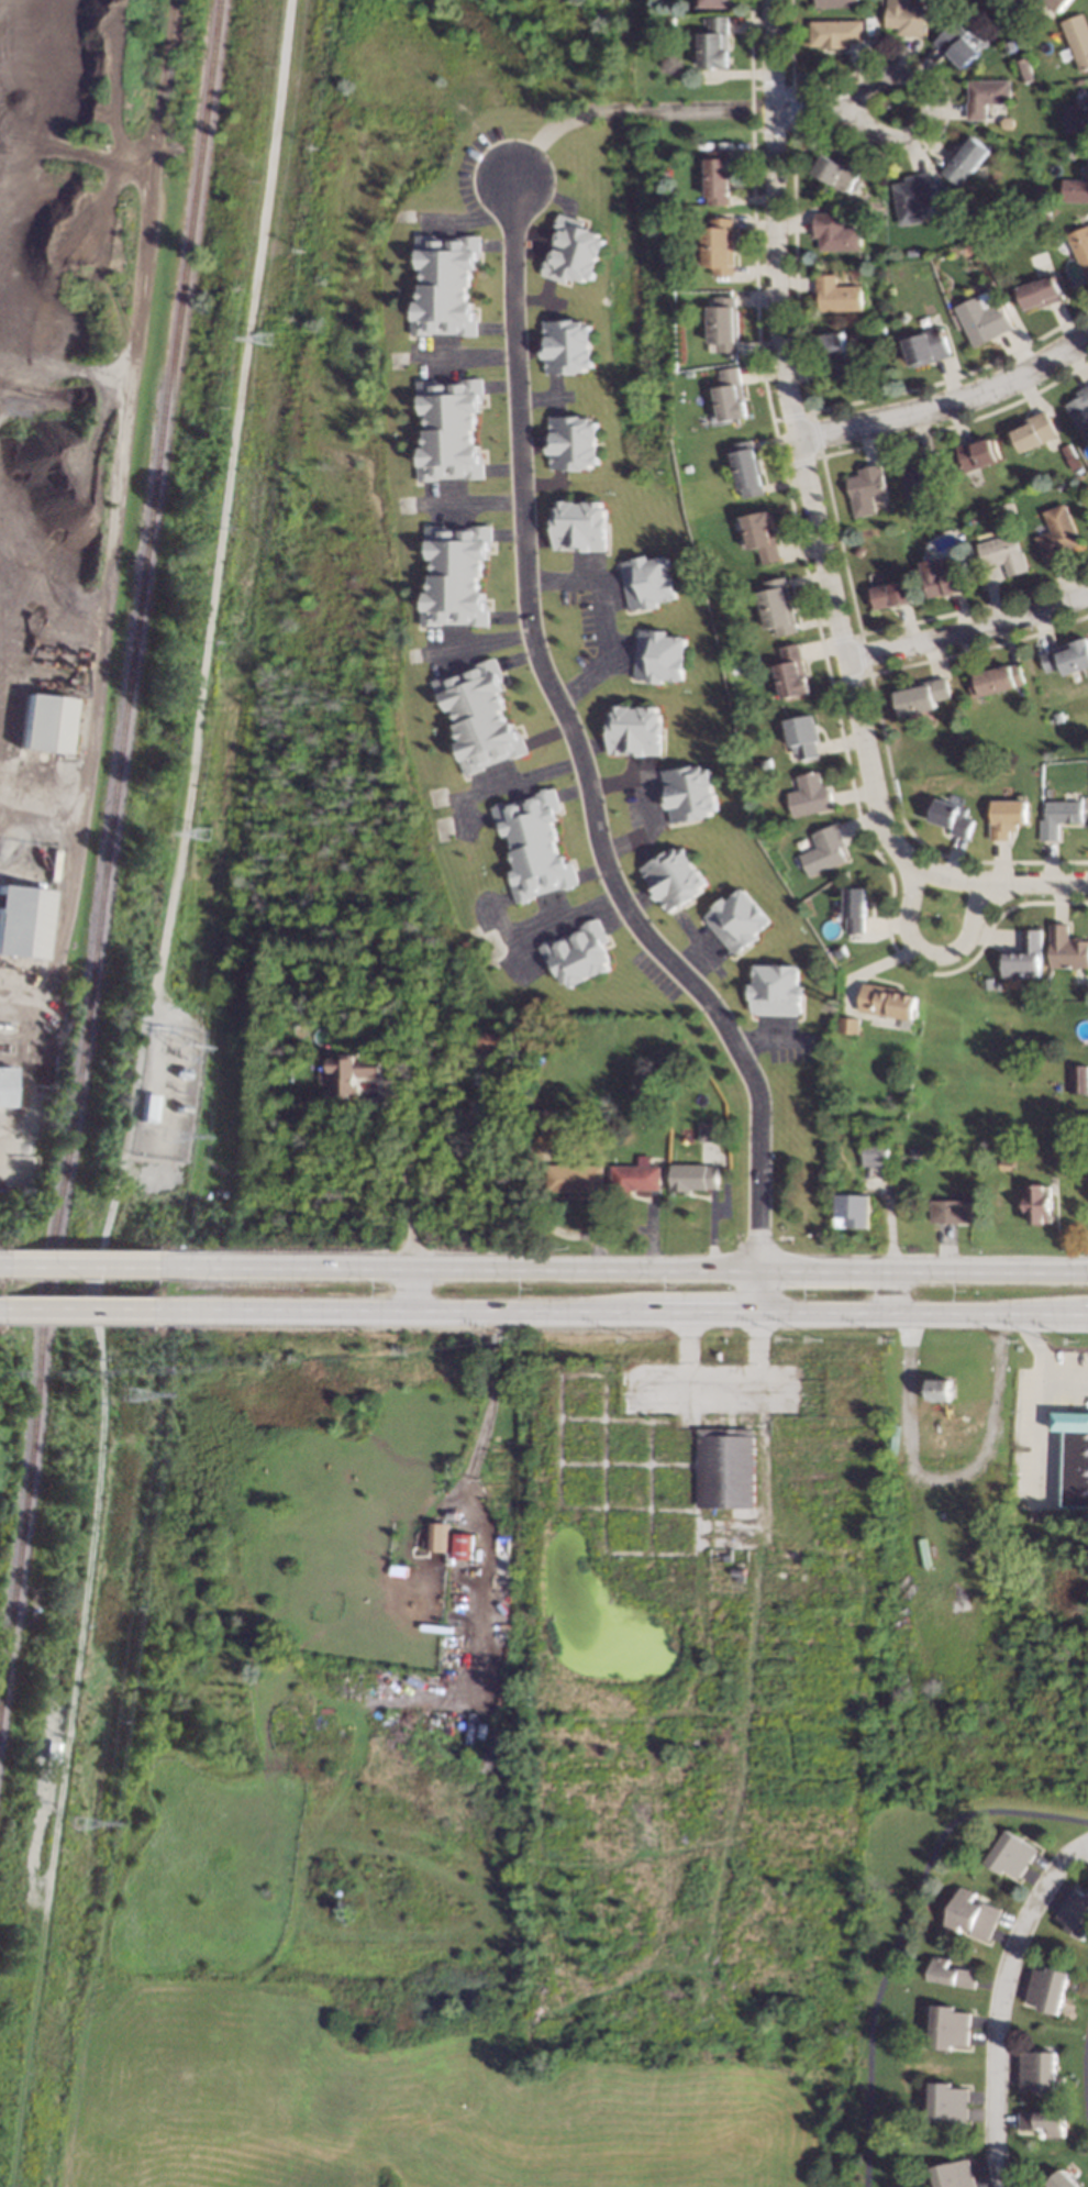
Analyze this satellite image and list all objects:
building: (714, 2)
building: (836, 2)
building: (1055, 3)
building: (906, 16)
building: (669, 21)
building: (835, 32)
building: (1077, 38)
building: (715, 42)
building: (957, 43)
building: (1009, 46)
building: (1024, 69)
building: (986, 96)
road: (803, 108)
road: (612, 110)
building: (1076, 117)
building: (989, 125)
road: (891, 142)
building: (966, 158)
building: (667, 170)
building: (839, 170)
building: (719, 175)
building: (1075, 189)
building: (914, 196)
building: (836, 231)
building: (987, 240)
building: (720, 245)
building: (1080, 245)
building: (879, 248)
building: (573, 250)
building: (912, 252)
building: (444, 283)
building: (1041, 290)
building: (837, 294)
building: (982, 319)
building: (723, 323)
building: (880, 330)
building: (926, 344)
building: (566, 346)
road: (464, 354)
building: (835, 354)
building: (729, 395)
road: (947, 405)
building: (1080, 410)
building: (446, 427)
building: (1033, 430)
building: (570, 443)
road: (798, 452)
building: (975, 452)
building: (1086, 457)
building: (1072, 461)
building: (745, 467)
building: (919, 475)
building: (865, 488)
road: (467, 502)
building: (575, 526)
building: (864, 530)
building: (1057, 533)
building: (759, 534)
building: (856, 550)
building: (1002, 553)
building: (454, 573)
building: (940, 577)
road: (110, 578)
building: (643, 581)
building: (890, 593)
building: (776, 606)
road: (593, 619)
road: (967, 628)
building: (730, 639)
building: (655, 655)
building: (1066, 655)
building: (732, 669)
building: (789, 672)
building: (993, 678)
building: (919, 694)
building: (476, 715)
building: (1056, 717)
building: (45, 721)
building: (632, 730)
building: (801, 736)
building: (1050, 749)
road: (571, 750)
building: (764, 762)
road: (498, 783)
building: (687, 793)
building: (808, 795)
road: (645, 805)
building: (1058, 816)
building: (951, 817)
building: (1006, 817)
building: (533, 844)
building: (823, 851)
railway: (110, 862)
building: (671, 877)
road: (1010, 882)
building: (855, 908)
building: (21, 919)
building: (735, 920)
road: (548, 925)
building: (1066, 948)
building: (839, 950)
building: (578, 953)
road: (924, 956)
building: (1023, 956)
building: (986, 983)
building: (998, 984)
building: (775, 990)
building: (886, 999)
building: (848, 1025)
building: (654, 1031)
building: (495, 1038)
building: (353, 1071)
building: (1077, 1075)
building: (5, 1084)
building: (841, 1102)
building: (151, 1107)
building: (592, 1113)
building: (707, 1130)
building: (1030, 1147)
building: (915, 1151)
building: (876, 1152)
building: (1007, 1162)
road: (404, 1173)
building: (635, 1175)
building: (692, 1175)
building: (576, 1177)
building: (1039, 1201)
building: (853, 1206)
building: (951, 1211)
road: (70, 1266)
road: (452, 1268)
road: (924, 1271)
road: (415, 1292)
road: (762, 1294)
road: (888, 1295)
road: (2, 1312)
road: (74, 1313)
road: (614, 1317)
road: (1039, 1369)
road: (724, 1373)
crop: (10, 1387)
building: (939, 1389)
road: (1041, 1438)
building: (1073, 1457)
building: (723, 1467)
road: (470, 1471)
road: (942, 1477)
building: (436, 1539)
building: (463, 1545)
building: (779, 1573)
building: (53, 1727)
building: (1011, 1853)
building: (1075, 1912)
building: (972, 1914)
road: (899, 1931)
building: (952, 1973)
building: (1047, 1988)
road: (1001, 2001)
building: (950, 2026)
building: (1037, 2069)
road: (1084, 2074)
park: (426, 2094)
building: (947, 2102)
building: (1043, 2121)
building: (954, 2174)
building: (1063, 2179)

